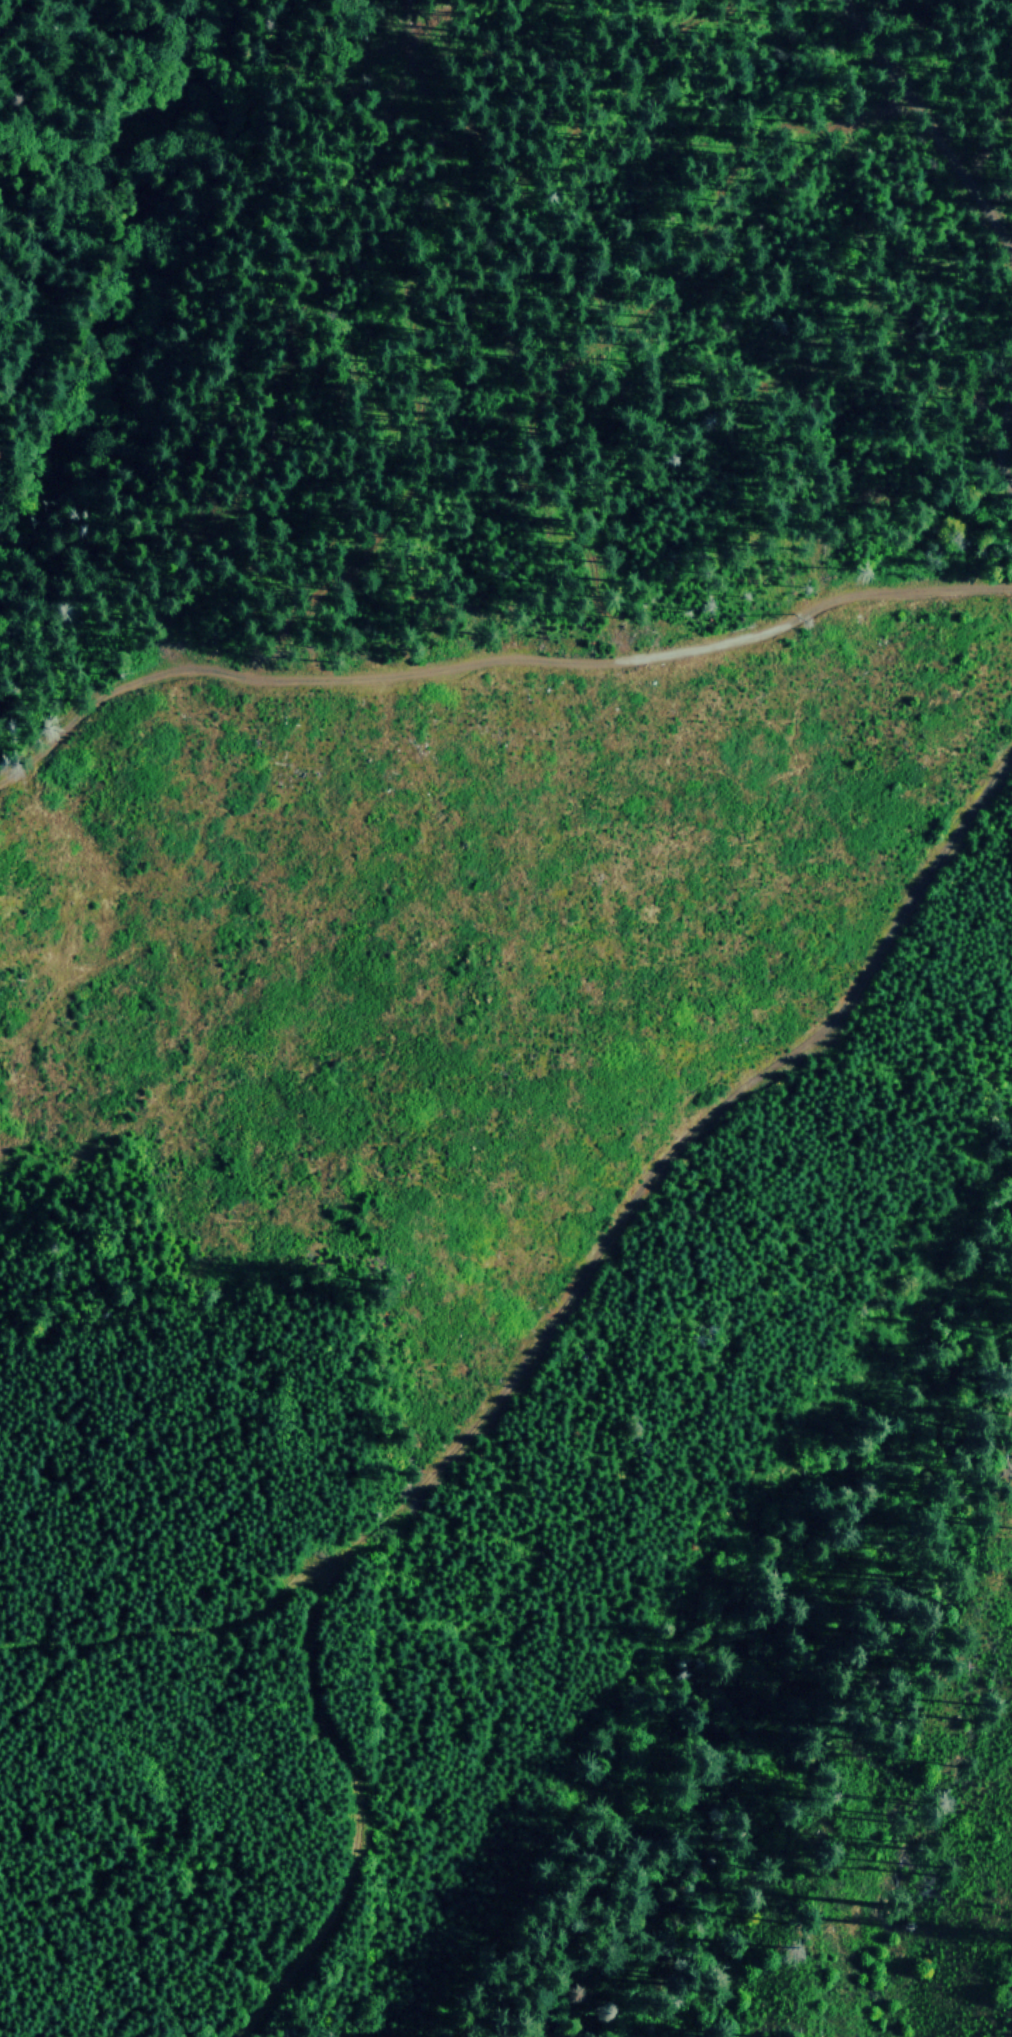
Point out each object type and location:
road: (32, 15)
road: (938, 128)
road: (496, 645)
road: (671, 1158)
road: (358, 1813)
road: (1009, 2022)

